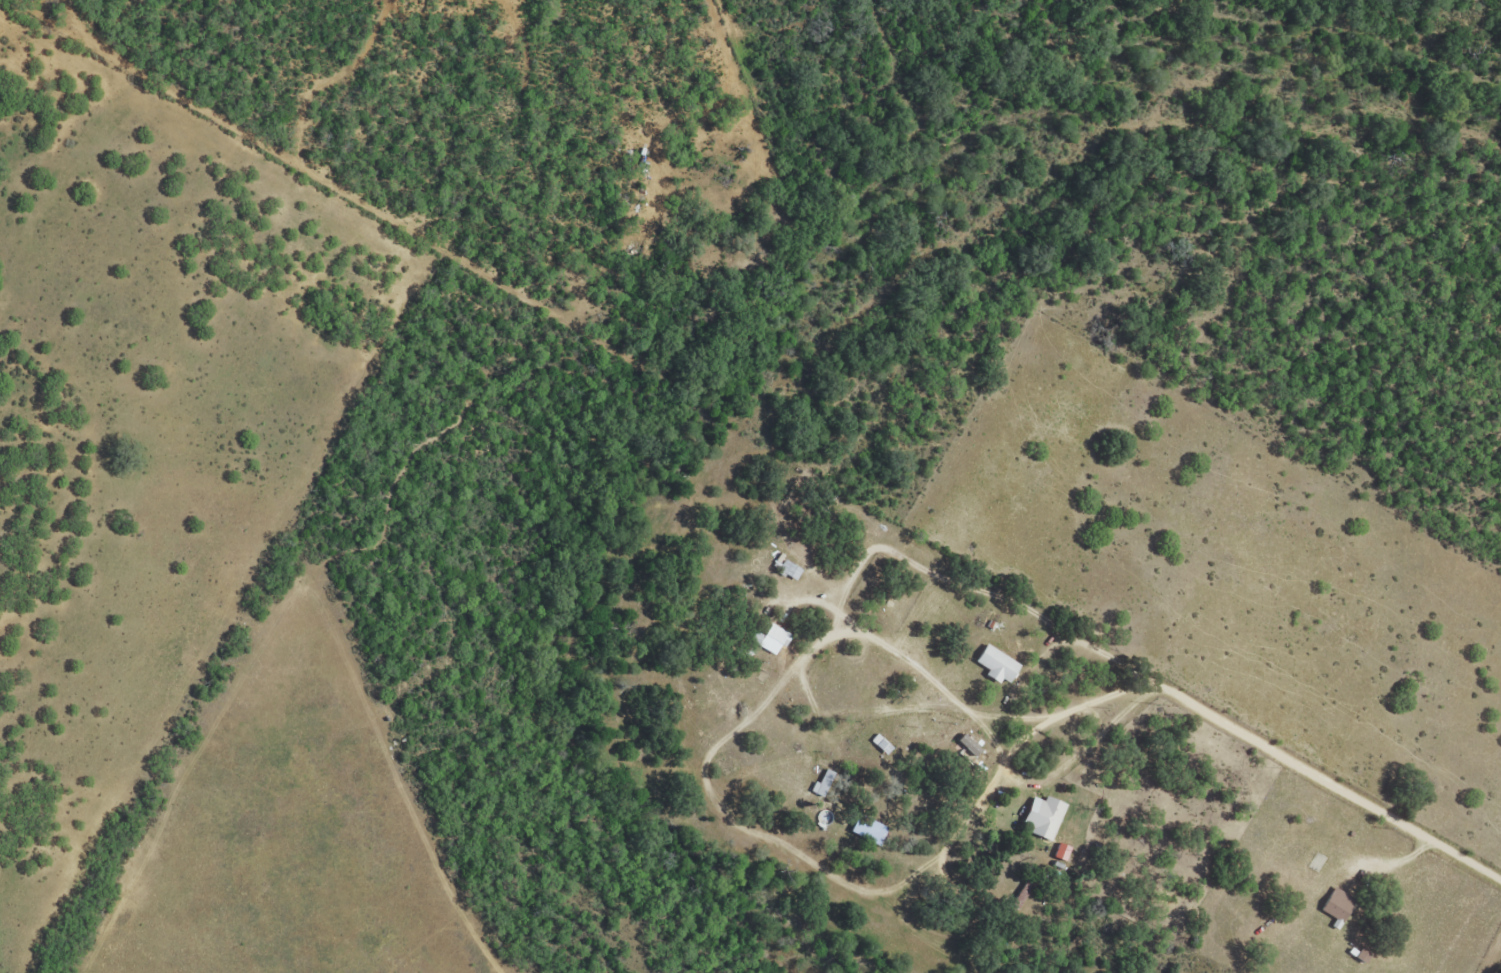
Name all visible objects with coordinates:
river: (775, 333)
road: (972, 586)
road: (841, 631)
building: (771, 637)
building: (994, 662)
road: (1220, 714)
road: (989, 735)
building: (821, 780)
building: (1041, 814)
building: (865, 827)
building: (1059, 850)
building: (1334, 902)

